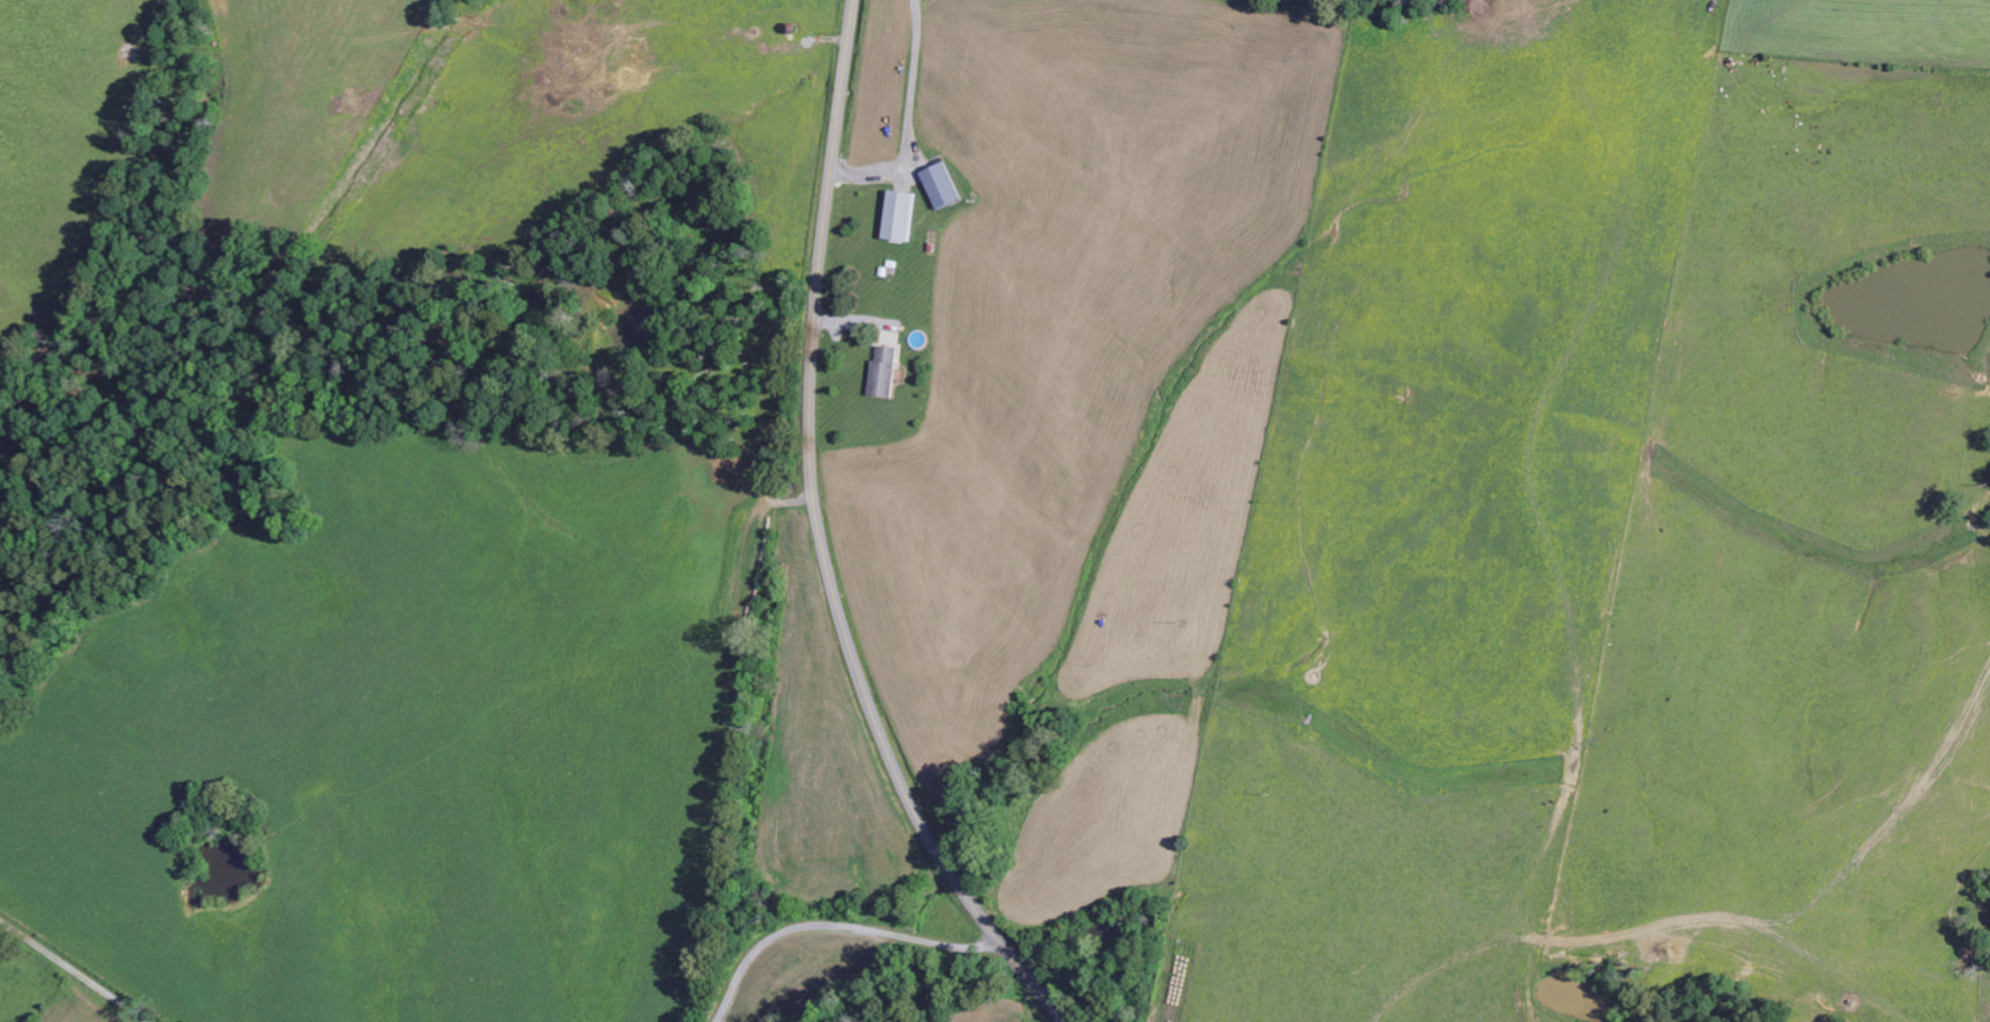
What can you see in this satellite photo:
building: (945, 185)
building: (902, 215)
building: (888, 371)
road: (824, 542)
road: (839, 925)
road: (75, 970)

